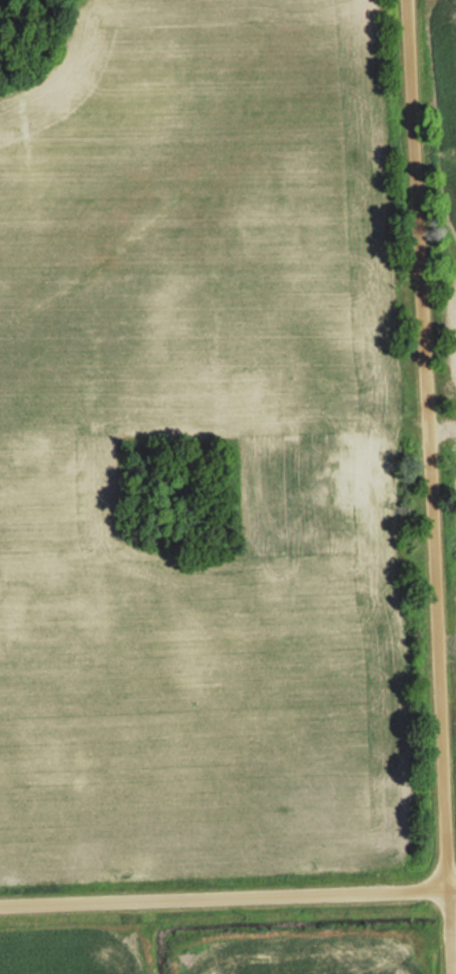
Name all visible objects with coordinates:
road: (426, 487)
road: (450, 886)
road: (222, 894)

